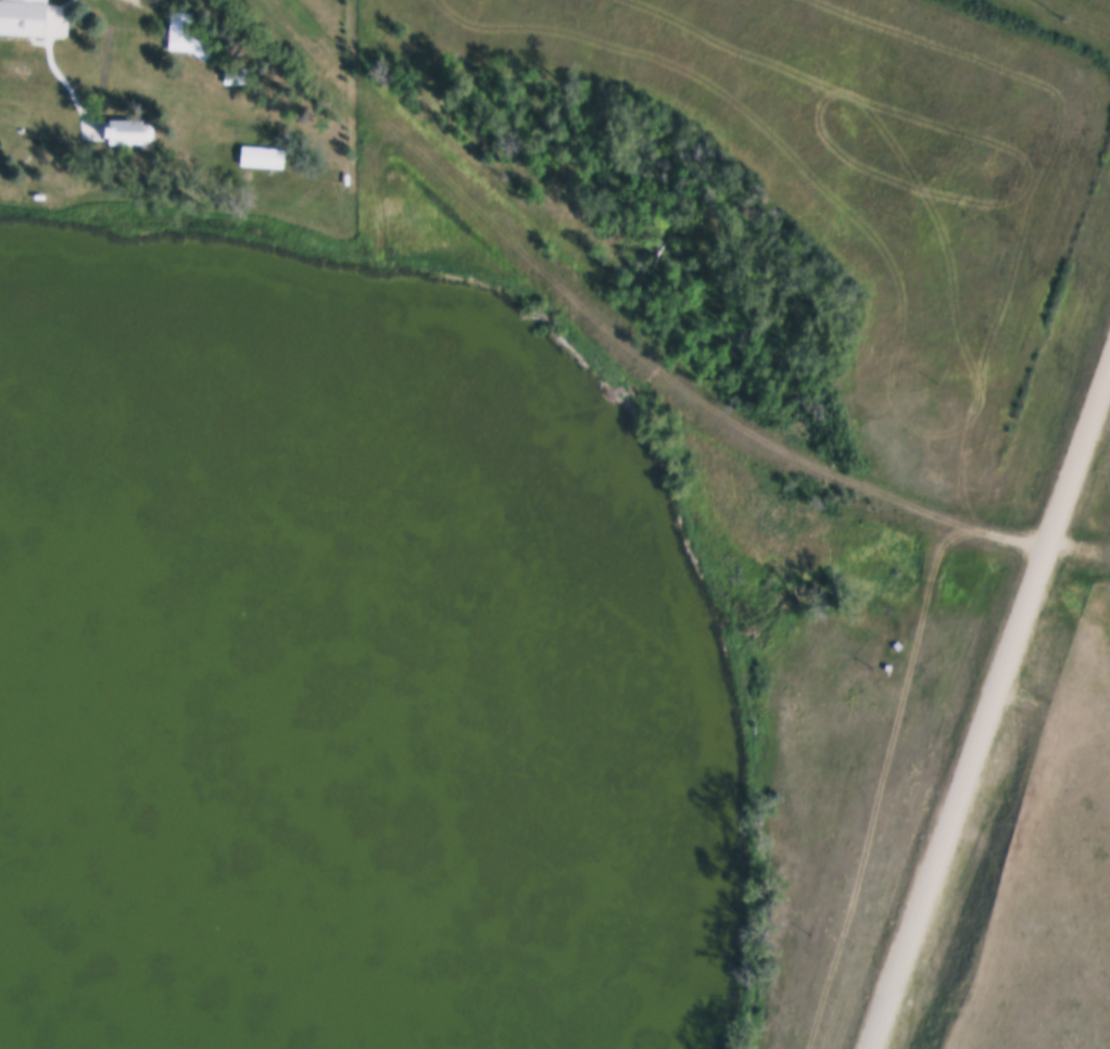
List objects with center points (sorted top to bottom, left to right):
building: (26, 20)
building: (185, 36)
building: (235, 76)
building: (130, 132)
building: (261, 157)
road: (664, 370)
road: (989, 705)
road: (882, 776)

